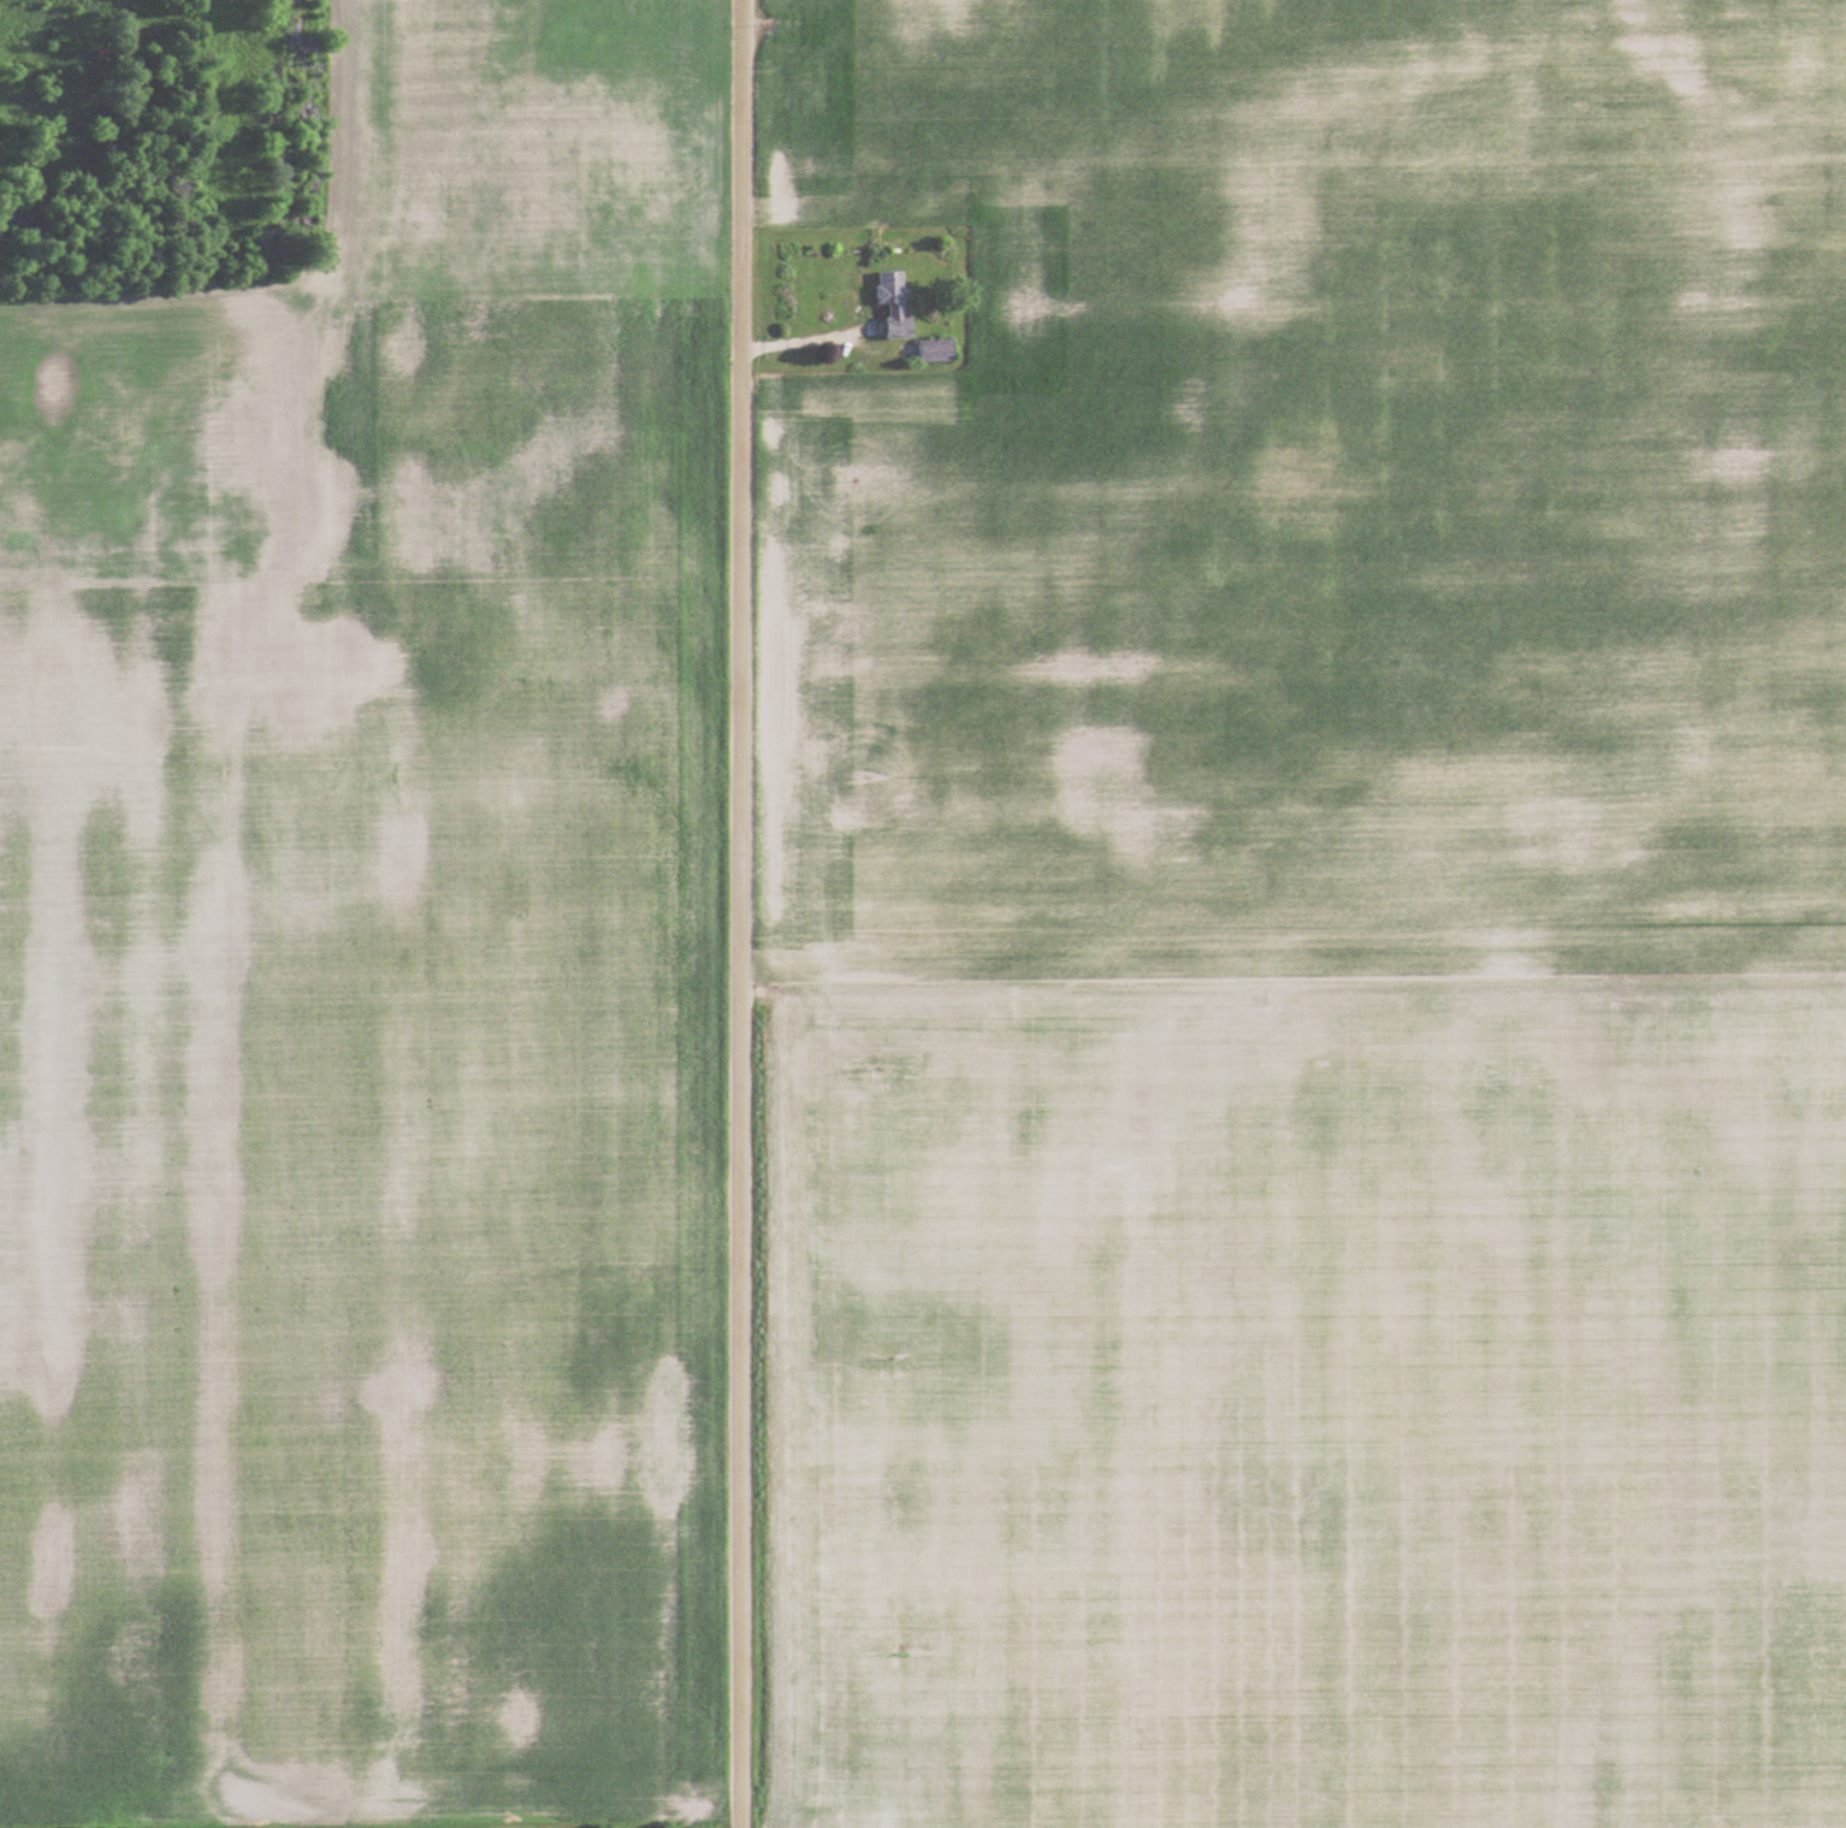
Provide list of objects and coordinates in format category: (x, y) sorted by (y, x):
building: (895, 302)
road: (809, 337)
road: (741, 913)

